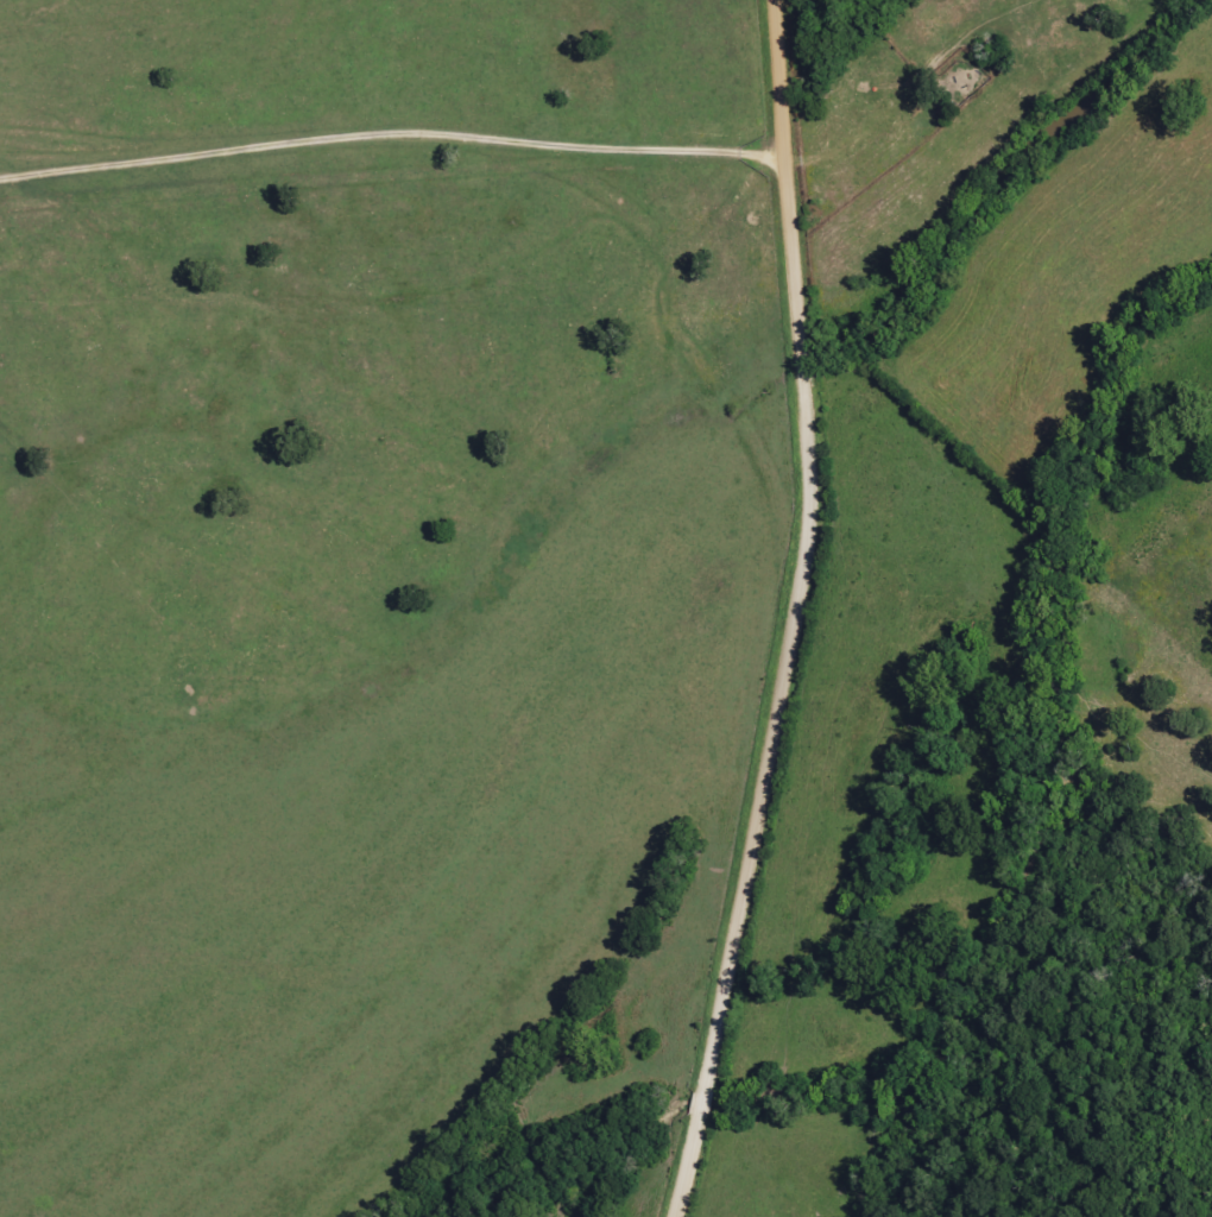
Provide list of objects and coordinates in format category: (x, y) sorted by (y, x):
road: (393, 127)
road: (800, 612)

